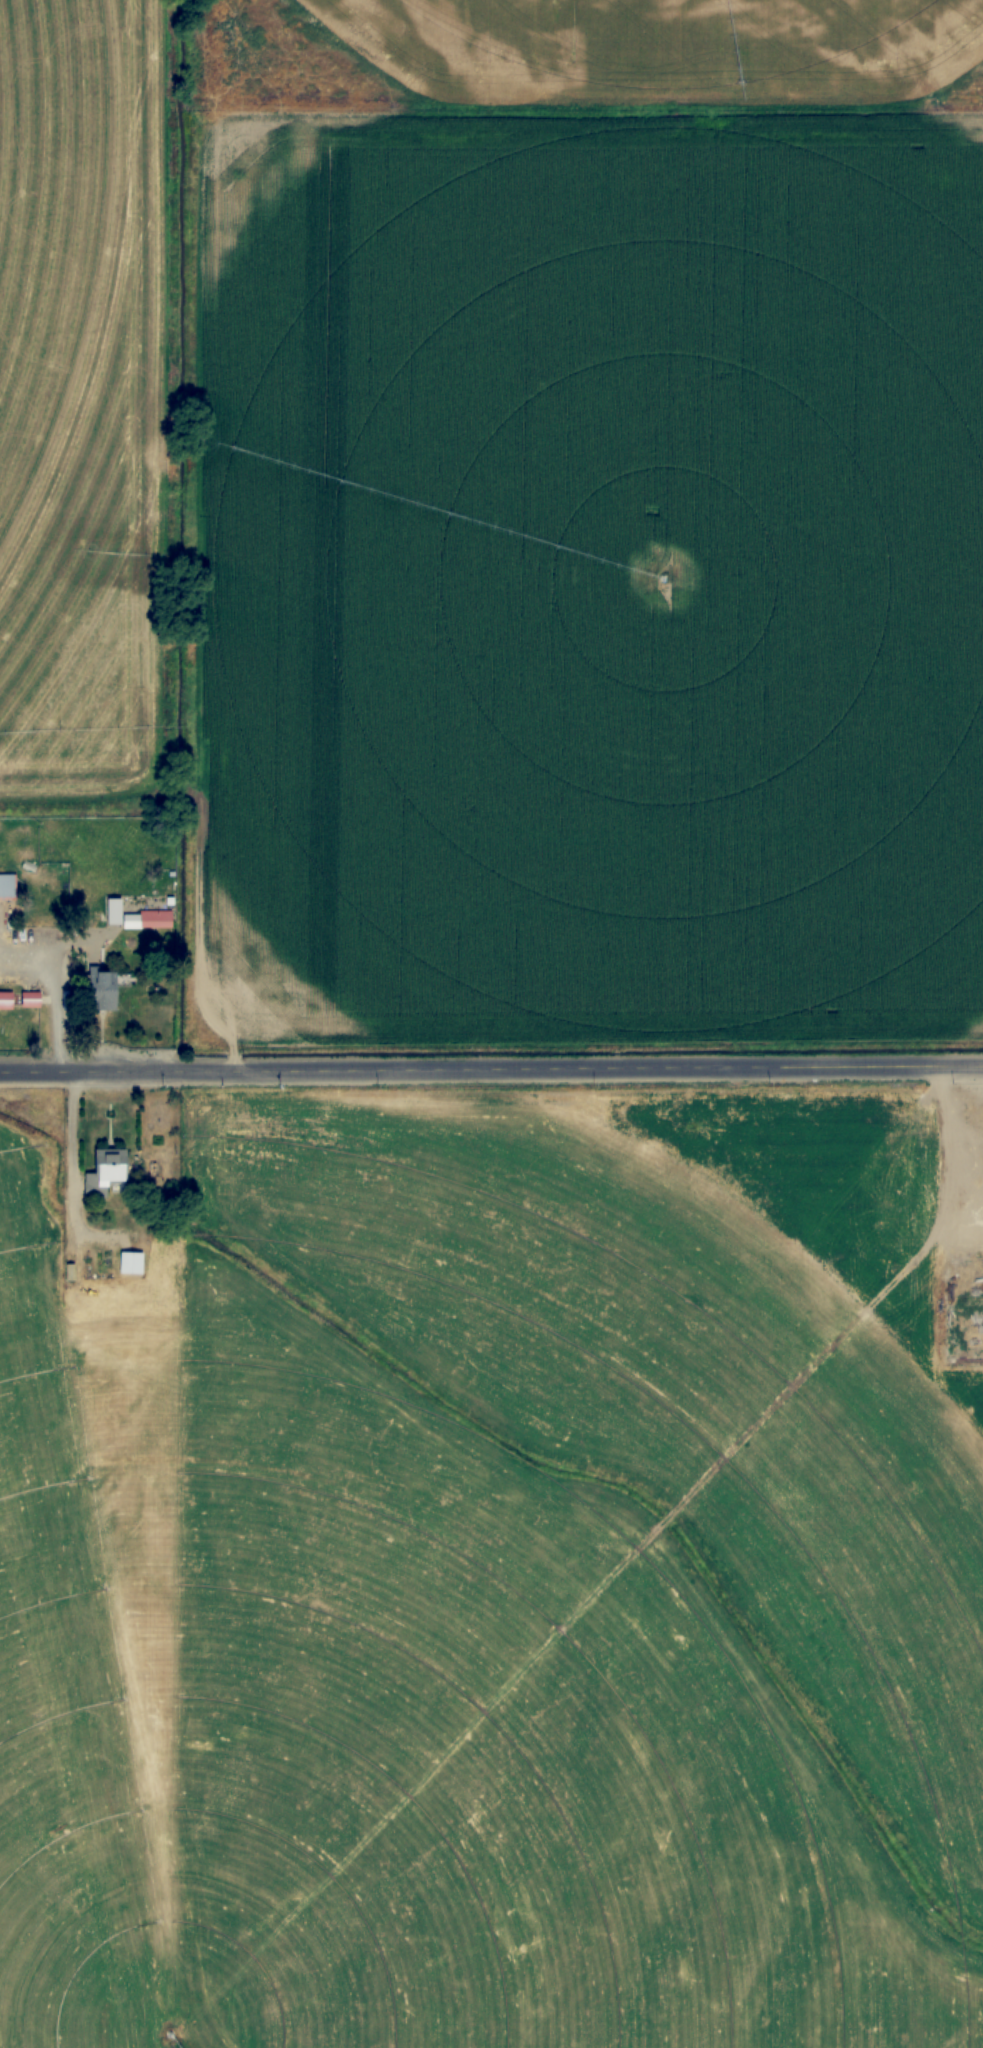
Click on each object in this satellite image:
crop: (491, 534)
building: (7, 885)
building: (155, 919)
building: (105, 991)
building: (30, 999)
building: (6, 1000)
road: (491, 1068)
building: (106, 1173)
building: (131, 1263)

